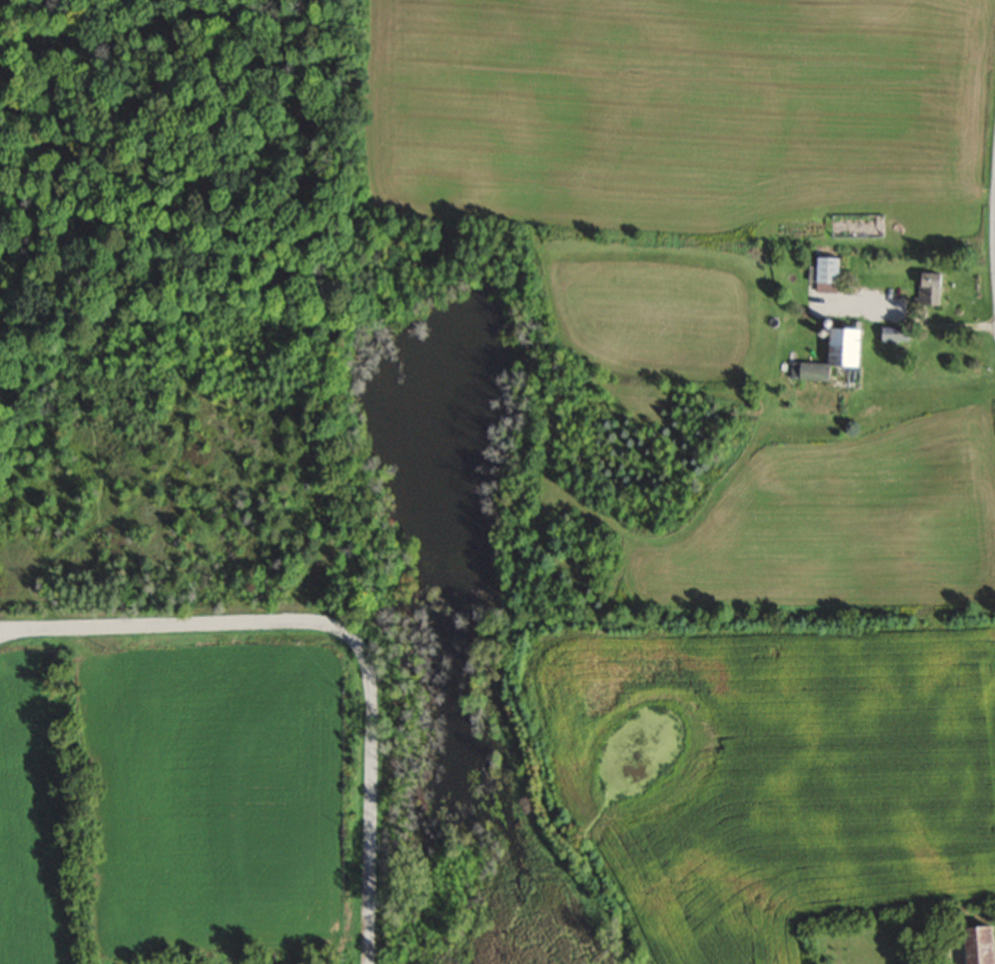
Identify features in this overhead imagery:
road: (994, 221)
building: (825, 270)
building: (926, 289)
building: (826, 356)
road: (341, 630)
building: (976, 944)

